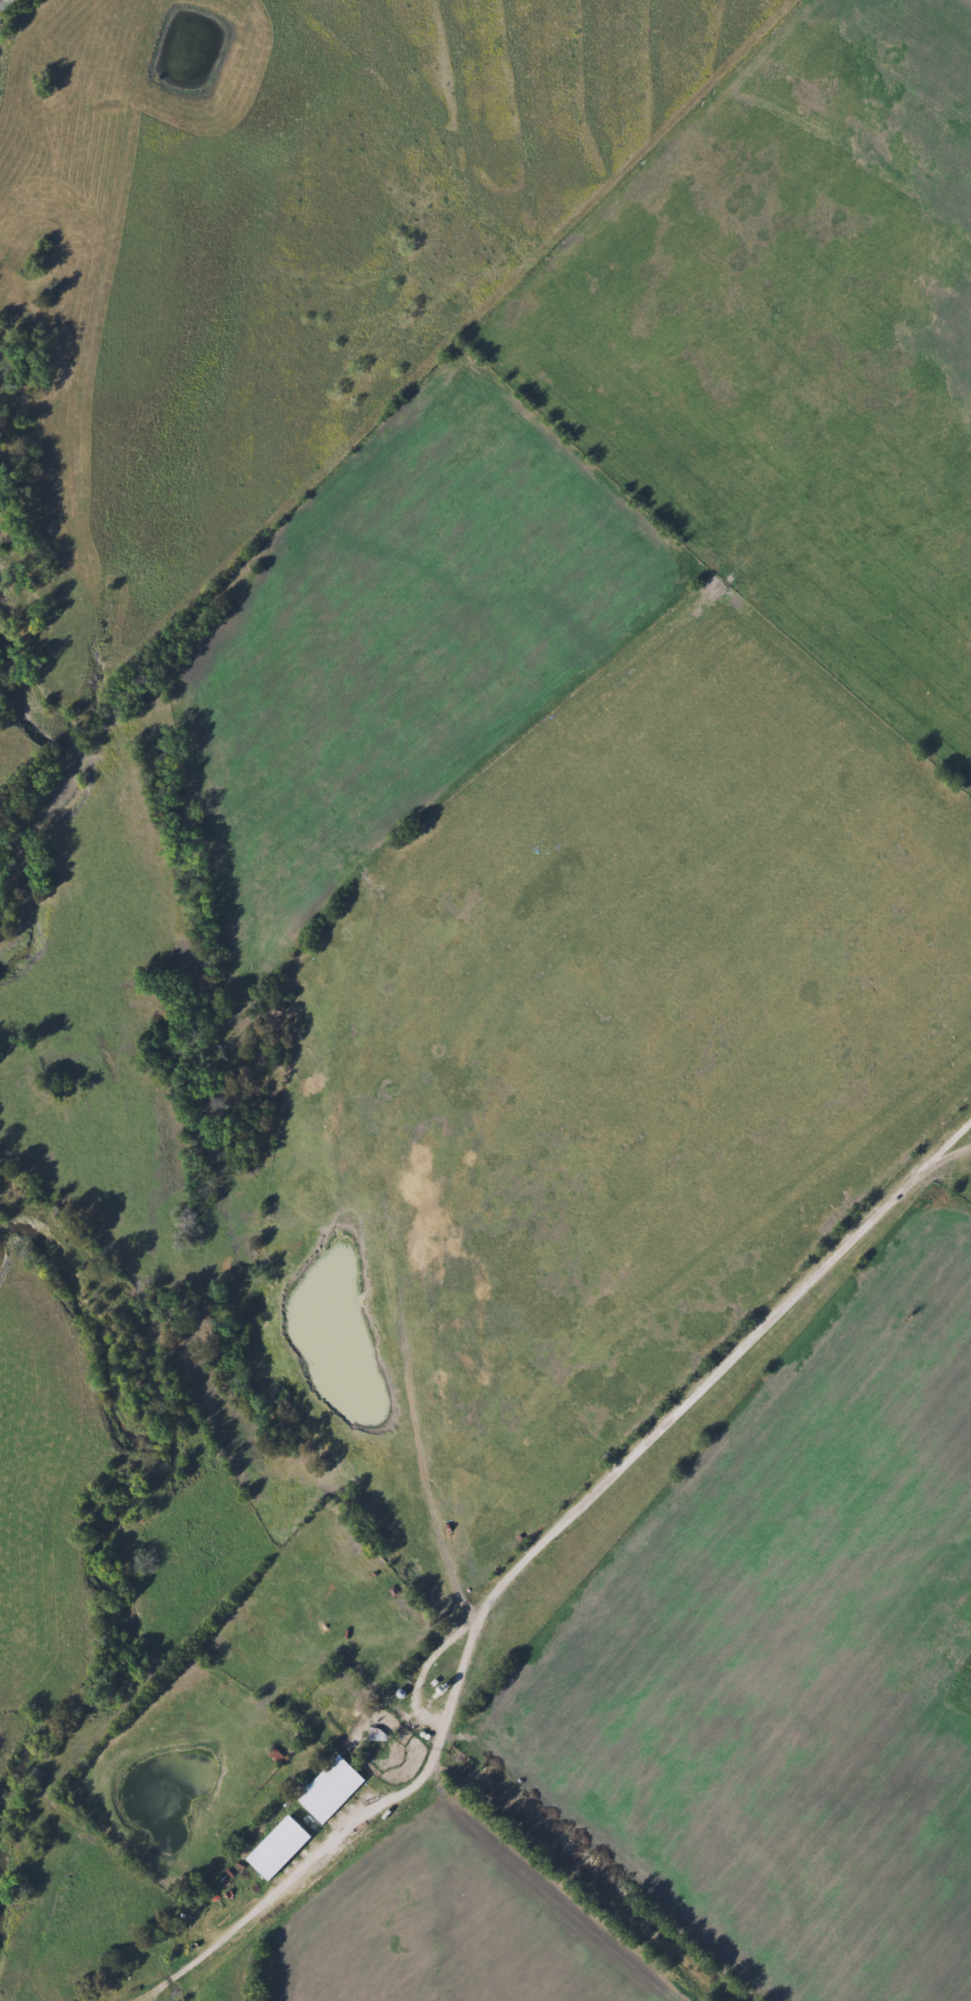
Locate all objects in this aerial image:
road: (3, 3)
road: (962, 1140)
road: (712, 1376)
road: (441, 1715)
building: (334, 1791)
building: (284, 1850)

